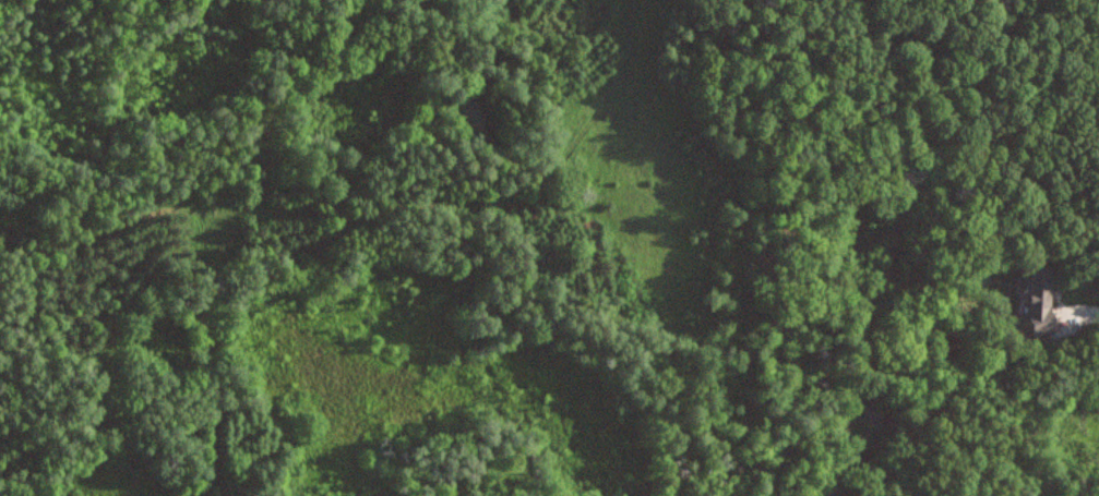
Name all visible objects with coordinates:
building: (1092, 281)

